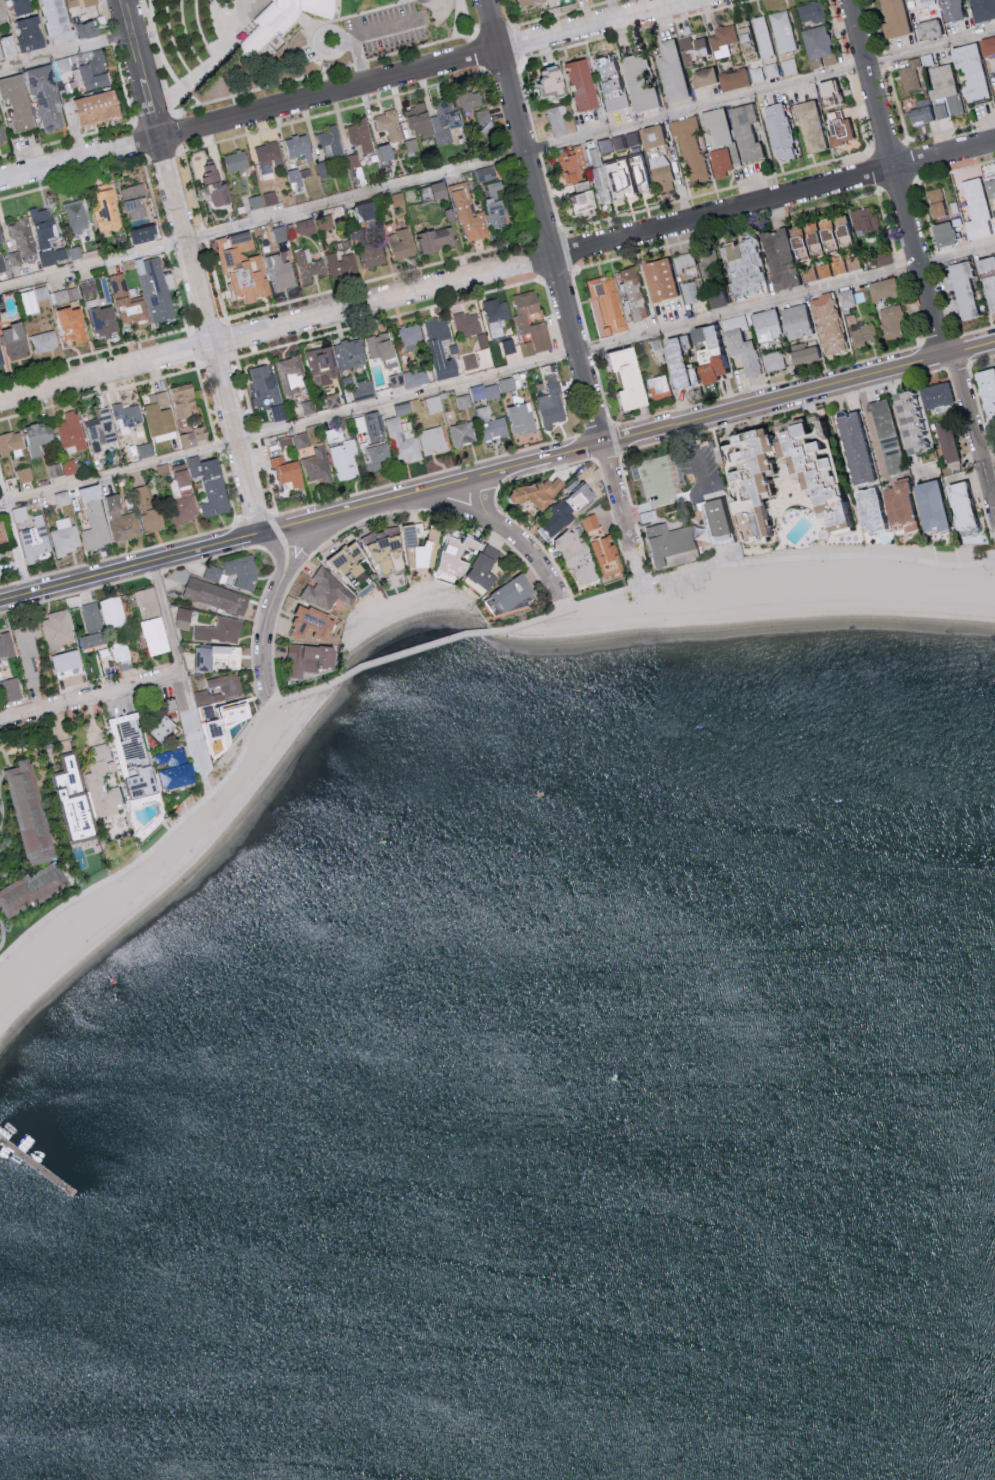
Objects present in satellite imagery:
building: (523, 2)
building: (925, 2)
building: (87, 3)
building: (22, 7)
building: (948, 9)
building: (980, 9)
building: (2, 10)
building: (810, 10)
road: (360, 13)
road: (564, 13)
road: (505, 14)
road: (105, 15)
road: (466, 15)
building: (891, 17)
road: (456, 19)
building: (282, 23)
building: (66, 24)
road: (877, 25)
building: (926, 28)
road: (632, 29)
road: (333, 30)
road: (494, 30)
building: (781, 30)
road: (837, 32)
road: (380, 33)
building: (32, 34)
building: (762, 35)
road: (112, 38)
parking lot: (368, 38)
building: (721, 40)
road: (516, 44)
building: (986, 44)
building: (816, 45)
road: (217, 47)
building: (8, 48)
park: (291, 48)
building: (691, 48)
road: (157, 50)
road: (480, 51)
road: (65, 52)
road: (886, 57)
road: (361, 59)
building: (788, 65)
road: (502, 66)
road: (849, 66)
building: (770, 69)
building: (968, 69)
building: (669, 70)
road: (325, 71)
building: (909, 73)
building: (701, 75)
building: (731, 78)
building: (544, 82)
building: (636, 82)
building: (575, 83)
building: (606, 83)
road: (123, 84)
building: (943, 85)
building: (828, 89)
road: (343, 92)
building: (49, 99)
building: (471, 100)
building: (19, 101)
road: (527, 102)
road: (898, 103)
road: (171, 105)
building: (100, 108)
building: (940, 109)
road: (334, 111)
road: (858, 112)
road: (173, 113)
building: (919, 114)
road: (155, 119)
building: (554, 120)
building: (436, 121)
road: (134, 122)
building: (484, 123)
building: (714, 124)
building: (389, 125)
building: (836, 127)
road: (951, 128)
building: (776, 130)
building: (743, 131)
road: (176, 132)
building: (810, 133)
building: (3, 134)
building: (649, 135)
building: (361, 136)
road: (66, 139)
road: (141, 140)
building: (616, 141)
building: (330, 142)
building: (299, 147)
building: (689, 147)
road: (888, 147)
road: (539, 149)
road: (181, 150)
building: (733, 152)
road: (163, 153)
building: (388, 153)
road: (497, 158)
building: (351, 161)
building: (719, 161)
road: (910, 161)
building: (237, 162)
building: (566, 166)
building: (324, 170)
road: (875, 170)
road: (954, 170)
building: (660, 172)
building: (486, 174)
building: (591, 174)
building: (627, 174)
building: (298, 176)
road: (898, 176)
road: (73, 178)
building: (607, 180)
road: (897, 183)
building: (217, 185)
building: (989, 186)
road: (193, 189)
road: (717, 189)
building: (440, 190)
road: (551, 193)
road: (153, 199)
building: (264, 200)
building: (575, 200)
building: (934, 201)
building: (135, 203)
building: (399, 203)
building: (497, 204)
building: (974, 209)
building: (367, 212)
building: (994, 212)
building: (108, 213)
building: (470, 215)
road: (927, 215)
building: (78, 217)
building: (865, 219)
building: (325, 223)
road: (887, 223)
building: (306, 227)
road: (726, 230)
building: (941, 232)
building: (281, 234)
road: (546, 234)
building: (146, 235)
road: (205, 235)
building: (1, 237)
building: (46, 238)
building: (437, 240)
building: (22, 243)
road: (165, 244)
building: (403, 245)
building: (343, 248)
road: (568, 249)
building: (76, 253)
building: (372, 255)
building: (881, 257)
road: (937, 257)
road: (536, 258)
building: (684, 260)
building: (851, 262)
building: (982, 262)
building: (758, 263)
building: (2, 264)
building: (342, 265)
road: (192, 266)
building: (309, 266)
building: (837, 266)
building: (243, 268)
road: (497, 268)
road: (899, 268)
building: (815, 271)
building: (283, 273)
road: (556, 273)
road: (557, 273)
road: (378, 277)
building: (658, 278)
road: (217, 282)
building: (880, 288)
building: (89, 289)
building: (961, 289)
building: (988, 290)
building: (142, 292)
building: (629, 292)
building: (704, 292)
road: (177, 293)
building: (66, 296)
building: (844, 297)
road: (948, 298)
building: (34, 300)
building: (603, 304)
road: (581, 305)
road: (909, 310)
road: (553, 313)
building: (497, 316)
road: (388, 317)
building: (792, 320)
building: (734, 321)
building: (891, 321)
building: (106, 322)
building: (468, 323)
building: (824, 323)
building: (524, 324)
building: (763, 324)
building: (74, 325)
road: (208, 327)
road: (974, 330)
building: (862, 333)
building: (411, 335)
road: (938, 337)
road: (228, 339)
building: (15, 342)
building: (45, 342)
building: (482, 345)
road: (196, 346)
building: (508, 347)
building: (440, 348)
road: (591, 348)
building: (382, 349)
road: (563, 351)
building: (741, 351)
building: (801, 351)
road: (93, 353)
building: (349, 354)
building: (1, 357)
building: (705, 357)
road: (981, 357)
building: (669, 359)
road: (216, 360)
building: (773, 360)
building: (471, 362)
building: (322, 366)
road: (957, 366)
road: (499, 371)
building: (617, 377)
building: (416, 378)
road: (769, 384)
building: (656, 386)
building: (363, 390)
building: (493, 390)
road: (602, 390)
road: (245, 391)
building: (267, 392)
road: (798, 392)
road: (952, 392)
road: (101, 393)
building: (985, 393)
building: (935, 394)
building: (186, 401)
building: (464, 401)
road: (977, 401)
road: (207, 404)
building: (552, 404)
building: (434, 405)
building: (308, 408)
road: (783, 409)
building: (404, 410)
building: (160, 414)
building: (128, 416)
building: (521, 419)
building: (906, 420)
building: (361, 425)
building: (492, 426)
building: (790, 427)
road: (870, 427)
road: (974, 427)
building: (374, 428)
road: (597, 430)
road: (974, 430)
building: (101, 431)
building: (71, 434)
building: (464, 434)
road: (257, 435)
building: (884, 435)
building: (38, 437)
building: (194, 437)
road: (992, 439)
building: (433, 441)
building: (294, 442)
building: (946, 442)
building: (404, 444)
building: (11, 445)
road: (217, 446)
building: (851, 447)
road: (992, 449)
road: (987, 450)
building: (145, 451)
building: (378, 456)
road: (608, 456)
road: (994, 459)
building: (345, 461)
road: (983, 463)
road: (994, 463)
building: (318, 466)
building: (62, 469)
building: (994, 470)
road: (544, 472)
building: (289, 473)
building: (25, 475)
road: (267, 476)
road: (426, 476)
parking lot: (683, 476)
road: (700, 477)
building: (180, 484)
building: (749, 484)
building: (211, 485)
road: (227, 487)
building: (538, 494)
building: (574, 496)
building: (63, 499)
building: (145, 500)
road: (981, 501)
building: (893, 502)
road: (663, 503)
road: (444, 504)
building: (957, 504)
building: (926, 505)
road: (631, 507)
building: (864, 508)
building: (183, 510)
road: (611, 512)
road: (255, 517)
building: (647, 518)
building: (555, 519)
building: (95, 520)
building: (122, 520)
building: (153, 521)
building: (719, 521)
road: (301, 524)
road: (349, 527)
road: (493, 533)
road: (248, 534)
road: (292, 534)
road: (993, 534)
building: (3, 535)
road: (316, 535)
road: (514, 536)
building: (65, 538)
road: (14, 540)
building: (35, 541)
road: (538, 543)
building: (668, 543)
building: (422, 546)
building: (594, 546)
building: (388, 550)
road: (134, 552)
building: (459, 557)
building: (568, 557)
road: (211, 558)
building: (681, 558)
road: (746, 562)
building: (352, 567)
road: (638, 569)
building: (484, 571)
road: (156, 573)
road: (24, 581)
road: (9, 585)
building: (327, 591)
road: (74, 595)
building: (505, 596)
building: (216, 597)
building: (147, 603)
road: (270, 608)
building: (113, 613)
building: (92, 618)
building: (183, 619)
road: (276, 624)
road: (254, 625)
building: (314, 625)
building: (58, 629)
building: (221, 632)
building: (155, 637)
building: (94, 641)
building: (27, 644)
road: (415, 649)
building: (6, 650)
building: (218, 658)
building: (310, 660)
building: (68, 662)
road: (175, 663)
road: (180, 666)
road: (144, 671)
building: (10, 690)
building: (232, 691)
road: (91, 696)
building: (166, 729)
building: (136, 757)
building: (176, 770)
building: (1, 771)
road: (208, 781)
building: (104, 784)
building: (76, 801)
building: (33, 816)
road: (174, 827)
building: (37, 893)
road: (6, 932)
pier: (40, 1168)

